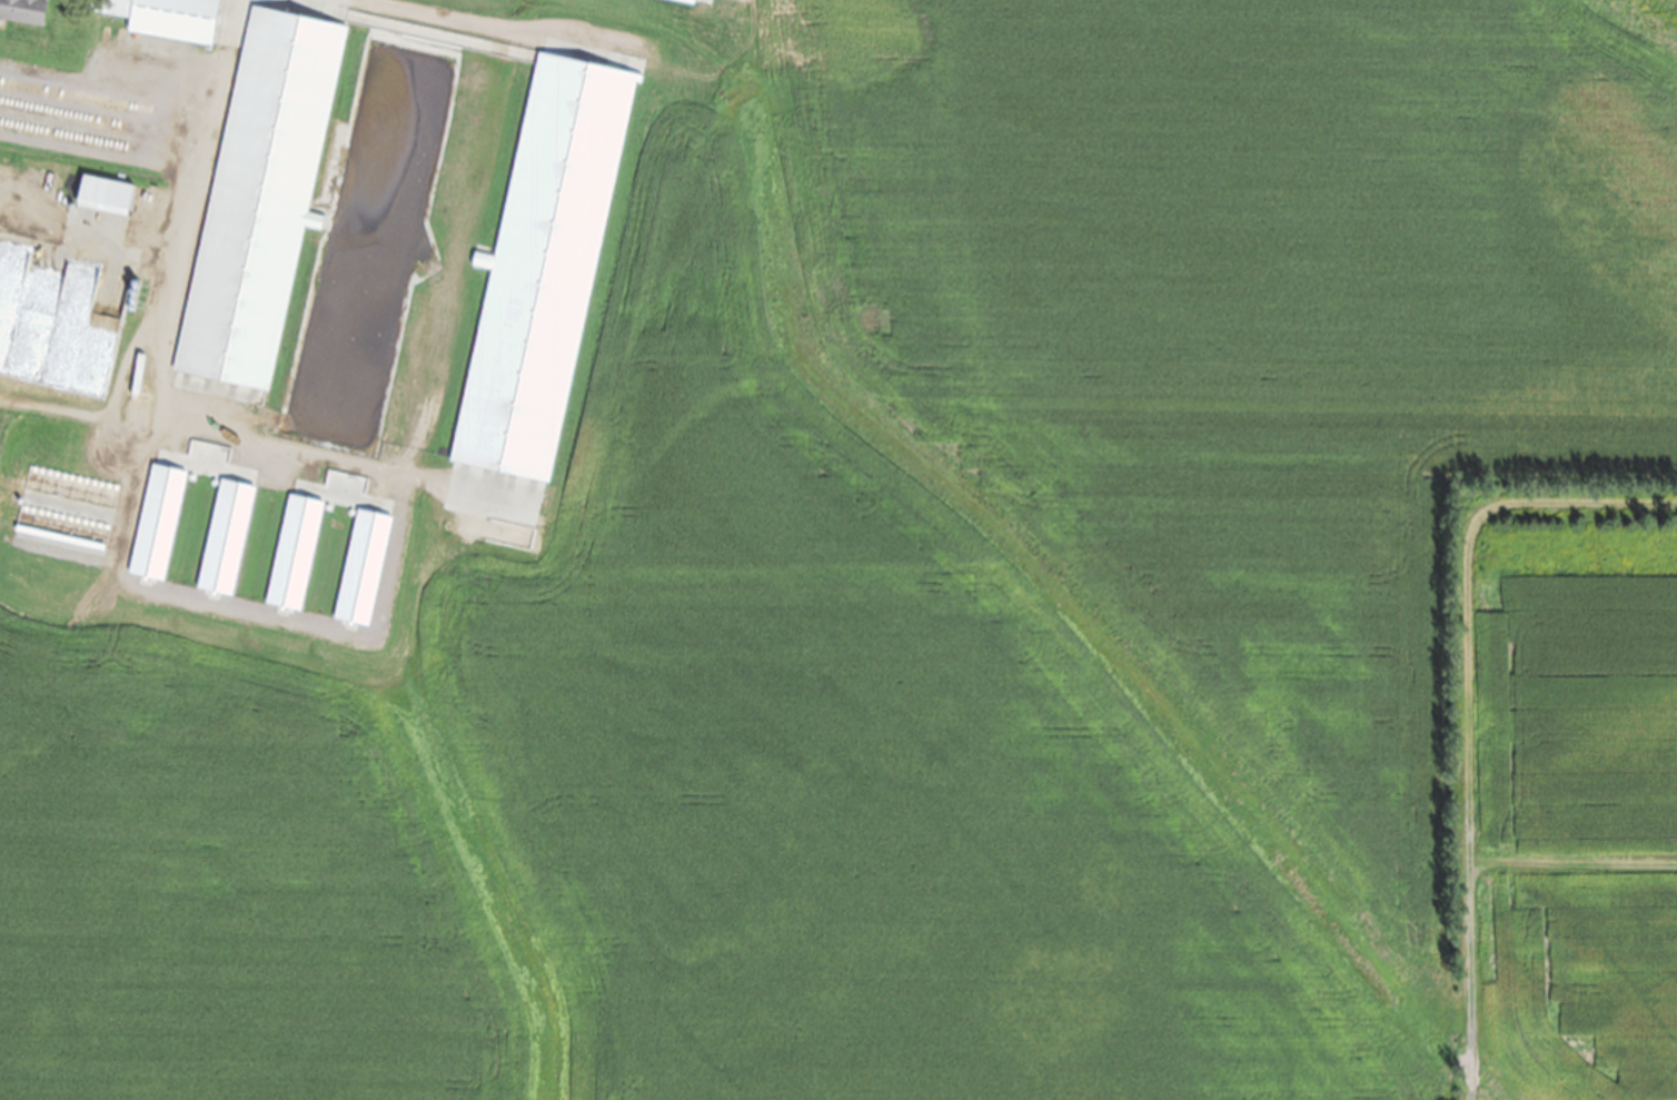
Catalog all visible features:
building: (22, 11)
building: (166, 11)
building: (278, 106)

